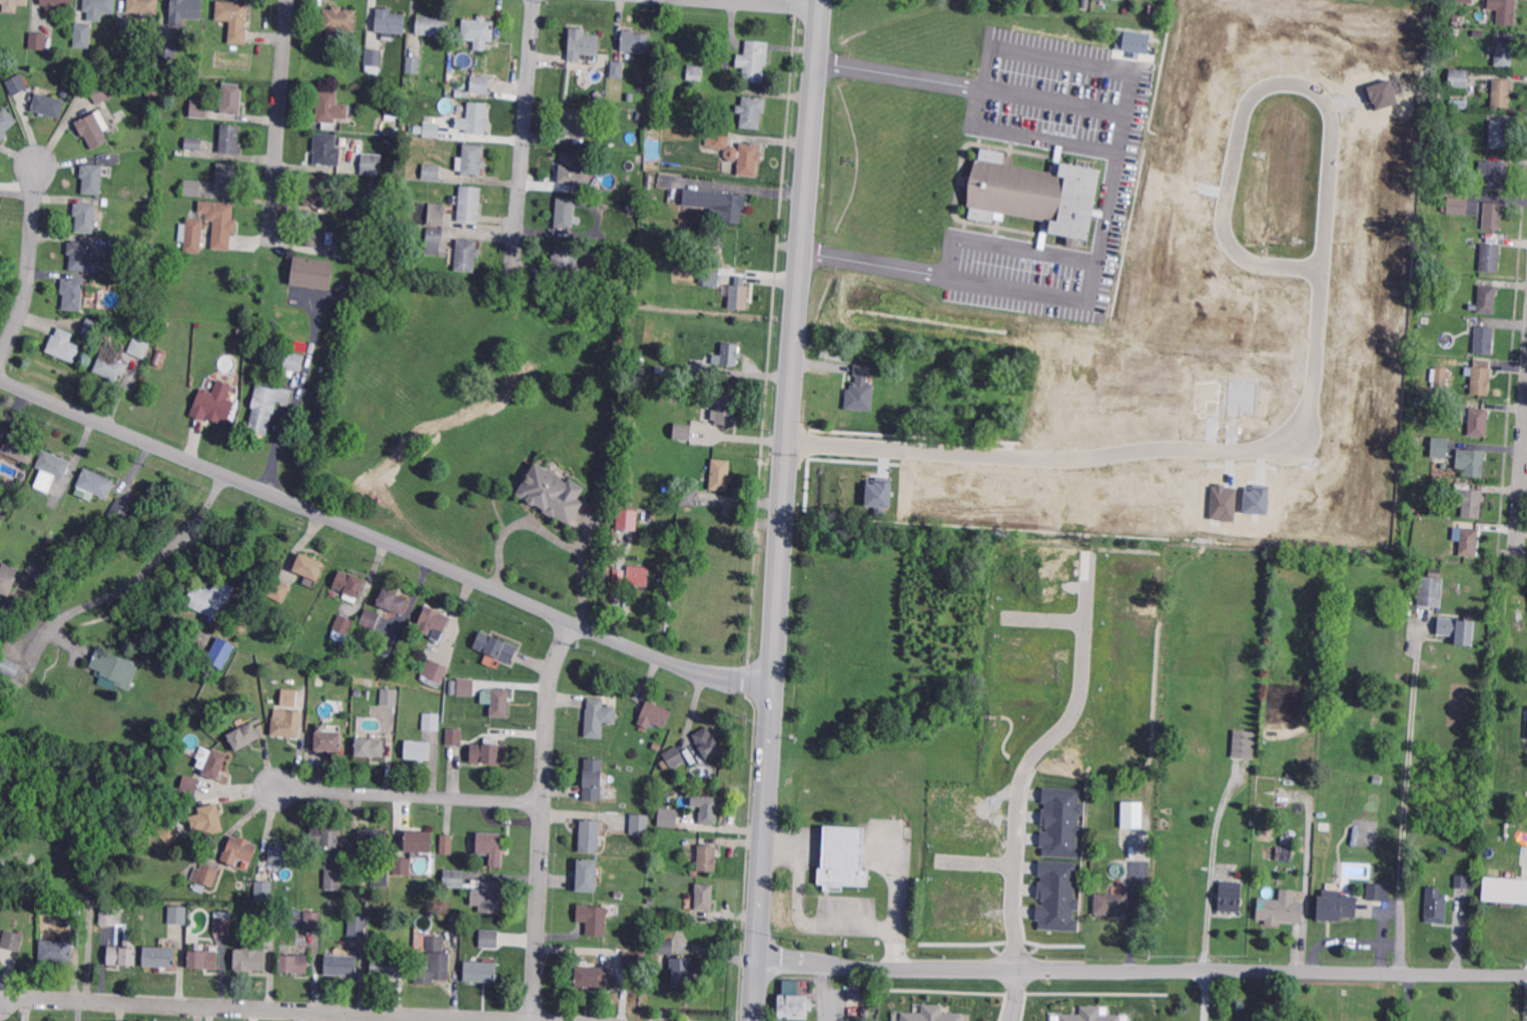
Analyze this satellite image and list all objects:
building: (1463, 0)
road: (776, 3)
building: (12, 5)
building: (55, 5)
building: (143, 6)
building: (98, 8)
building: (184, 11)
building: (1505, 13)
building: (1455, 18)
building: (234, 19)
building: (338, 21)
building: (389, 21)
building: (432, 25)
building: (122, 31)
building: (477, 32)
building: (499, 32)
building: (82, 36)
building: (37, 41)
building: (635, 42)
building: (1132, 42)
building: (582, 44)
building: (167, 50)
building: (1503, 52)
building: (372, 58)
building: (753, 61)
building: (413, 65)
building: (602, 69)
building: (616, 70)
building: (694, 73)
building: (1458, 78)
building: (16, 85)
building: (480, 85)
building: (357, 86)
building: (99, 92)
building: (463, 94)
building: (1499, 94)
building: (169, 95)
building: (631, 97)
building: (231, 99)
building: (1458, 105)
building: (47, 106)
building: (460, 108)
building: (198, 109)
building: (329, 109)
building: (751, 112)
building: (392, 113)
building: (639, 115)
road: (277, 117)
building: (474, 119)
road: (524, 122)
building: (5, 123)
building: (573, 123)
building: (92, 129)
building: (418, 129)
building: (431, 131)
building: (1499, 136)
building: (229, 139)
building: (719, 140)
building: (193, 144)
building: (324, 150)
building: (639, 159)
building: (748, 160)
building: (471, 161)
building: (371, 165)
building: (588, 166)
building: (405, 169)
building: (572, 170)
building: (392, 171)
building: (431, 173)
building: (1492, 174)
building: (91, 179)
building: (228, 179)
building: (1442, 186)
building: (193, 188)
building: (324, 193)
building: (1035, 195)
road: (1110, 195)
building: (652, 198)
building: (470, 204)
building: (717, 204)
building: (1455, 206)
building: (630, 209)
building: (436, 214)
building: (564, 215)
building: (219, 216)
building: (1492, 216)
building: (85, 218)
building: (192, 230)
building: (413, 230)
building: (318, 233)
building: (434, 241)
road: (1010, 247)
building: (123, 249)
building: (356, 249)
building: (717, 250)
building: (466, 256)
building: (81, 257)
building: (566, 258)
building: (1488, 258)
road: (29, 265)
building: (313, 274)
building: (710, 278)
building: (72, 295)
building: (738, 297)
building: (1486, 300)
building: (1425, 320)
building: (92, 328)
building: (1484, 341)
building: (295, 346)
building: (62, 347)
building: (138, 348)
building: (727, 355)
building: (165, 357)
road: (1314, 357)
building: (293, 361)
building: (1443, 361)
building: (638, 368)
building: (110, 369)
building: (698, 369)
building: (660, 370)
building: (1440, 376)
building: (1479, 379)
building: (319, 385)
building: (860, 390)
building: (1417, 402)
building: (214, 403)
building: (266, 406)
building: (724, 408)
building: (1476, 423)
building: (630, 425)
building: (682, 433)
building: (1414, 442)
building: (19, 449)
building: (1437, 449)
building: (1471, 462)
building: (50, 469)
building: (720, 475)
building: (95, 483)
road: (1522, 492)
building: (552, 494)
building: (877, 494)
building: (688, 498)
building: (1255, 500)
building: (1222, 502)
building: (1466, 503)
road: (783, 510)
building: (1415, 510)
building: (119, 512)
building: (626, 518)
building: (1432, 528)
road: (549, 533)
road: (384, 540)
building: (1466, 541)
building: (638, 552)
road: (153, 564)
building: (310, 565)
building: (1434, 573)
building: (617, 575)
building: (637, 576)
building: (7, 578)
building: (350, 584)
building: (280, 589)
building: (1430, 594)
building: (211, 598)
building: (392, 602)
road: (1044, 617)
building: (370, 619)
building: (433, 620)
building: (343, 625)
building: (1458, 628)
building: (495, 647)
building: (221, 653)
building: (9, 667)
building: (113, 670)
building: (433, 672)
building: (320, 680)
building: (466, 687)
building: (390, 696)
building: (287, 698)
building: (499, 703)
building: (598, 714)
building: (654, 715)
road: (1069, 715)
building: (431, 722)
building: (286, 725)
building: (489, 732)
building: (243, 737)
building: (454, 738)
building: (328, 741)
building: (708, 742)
building: (1242, 745)
building: (369, 747)
building: (418, 751)
building: (488, 754)
building: (673, 757)
building: (215, 764)
building: (594, 778)
building: (190, 783)
road: (411, 795)
road: (1407, 799)
building: (662, 800)
building: (709, 813)
building: (1132, 815)
building: (667, 818)
road: (544, 819)
building: (207, 820)
building: (1060, 822)
building: (638, 824)
building: (982, 825)
building: (1323, 827)
building: (166, 830)
building: (591, 835)
building: (324, 836)
building: (371, 841)
building: (418, 842)
building: (447, 843)
building: (491, 848)
building: (1472, 848)
building: (238, 851)
building: (283, 854)
building: (1283, 854)
building: (708, 858)
building: (844, 859)
road: (978, 863)
building: (401, 867)
building: (205, 875)
building: (587, 875)
building: (381, 876)
building: (454, 878)
building: (333, 879)
building: (1464, 882)
building: (1504, 889)
building: (263, 892)
building: (1057, 894)
building: (1377, 895)
building: (487, 898)
building: (705, 898)
building: (1228, 899)
building: (1112, 904)
building: (122, 907)
building: (1434, 908)
building: (72, 909)
building: (1332, 910)
building: (1279, 914)
building: (177, 915)
building: (109, 916)
building: (1169, 916)
building: (594, 917)
road: (1014, 917)
building: (996, 918)
building: (268, 921)
building: (313, 921)
building: (358, 924)
road: (809, 924)
building: (222, 926)
building: (454, 926)
building: (487, 937)
building: (12, 941)
road: (1347, 941)
road: (1382, 943)
building: (56, 953)
building: (123, 954)
building: (250, 957)
building: (160, 958)
building: (633, 960)
building: (203, 961)
building: (434, 961)
building: (293, 964)
building: (341, 965)
building: (677, 965)
building: (388, 968)
road: (1142, 969)
building: (480, 972)
building: (593, 977)
building: (855, 994)
road: (1014, 994)
road: (1201, 995)
building: (793, 1002)
road: (267, 1009)
building: (933, 1015)
building: (1094, 1016)

